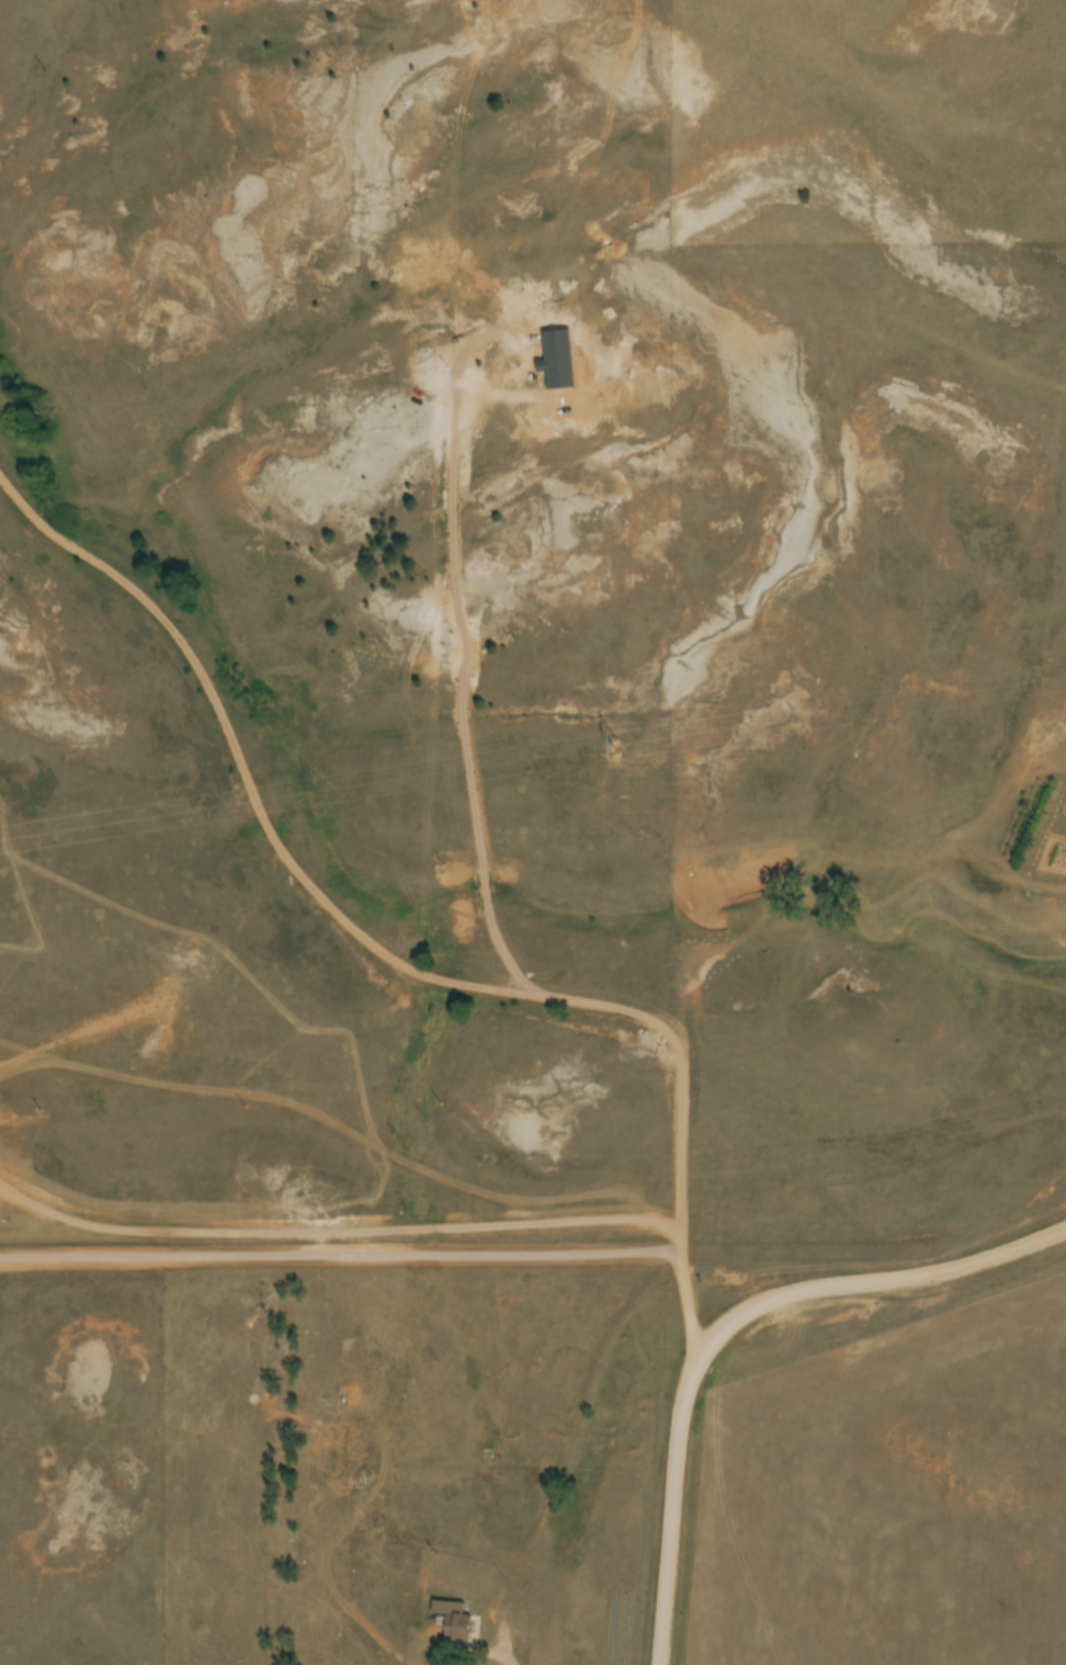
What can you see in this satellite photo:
power tower: (614, 747)
road: (401, 961)
road: (728, 1324)
building: (348, 1355)
building: (327, 1408)
building: (359, 1474)
building: (455, 1622)

